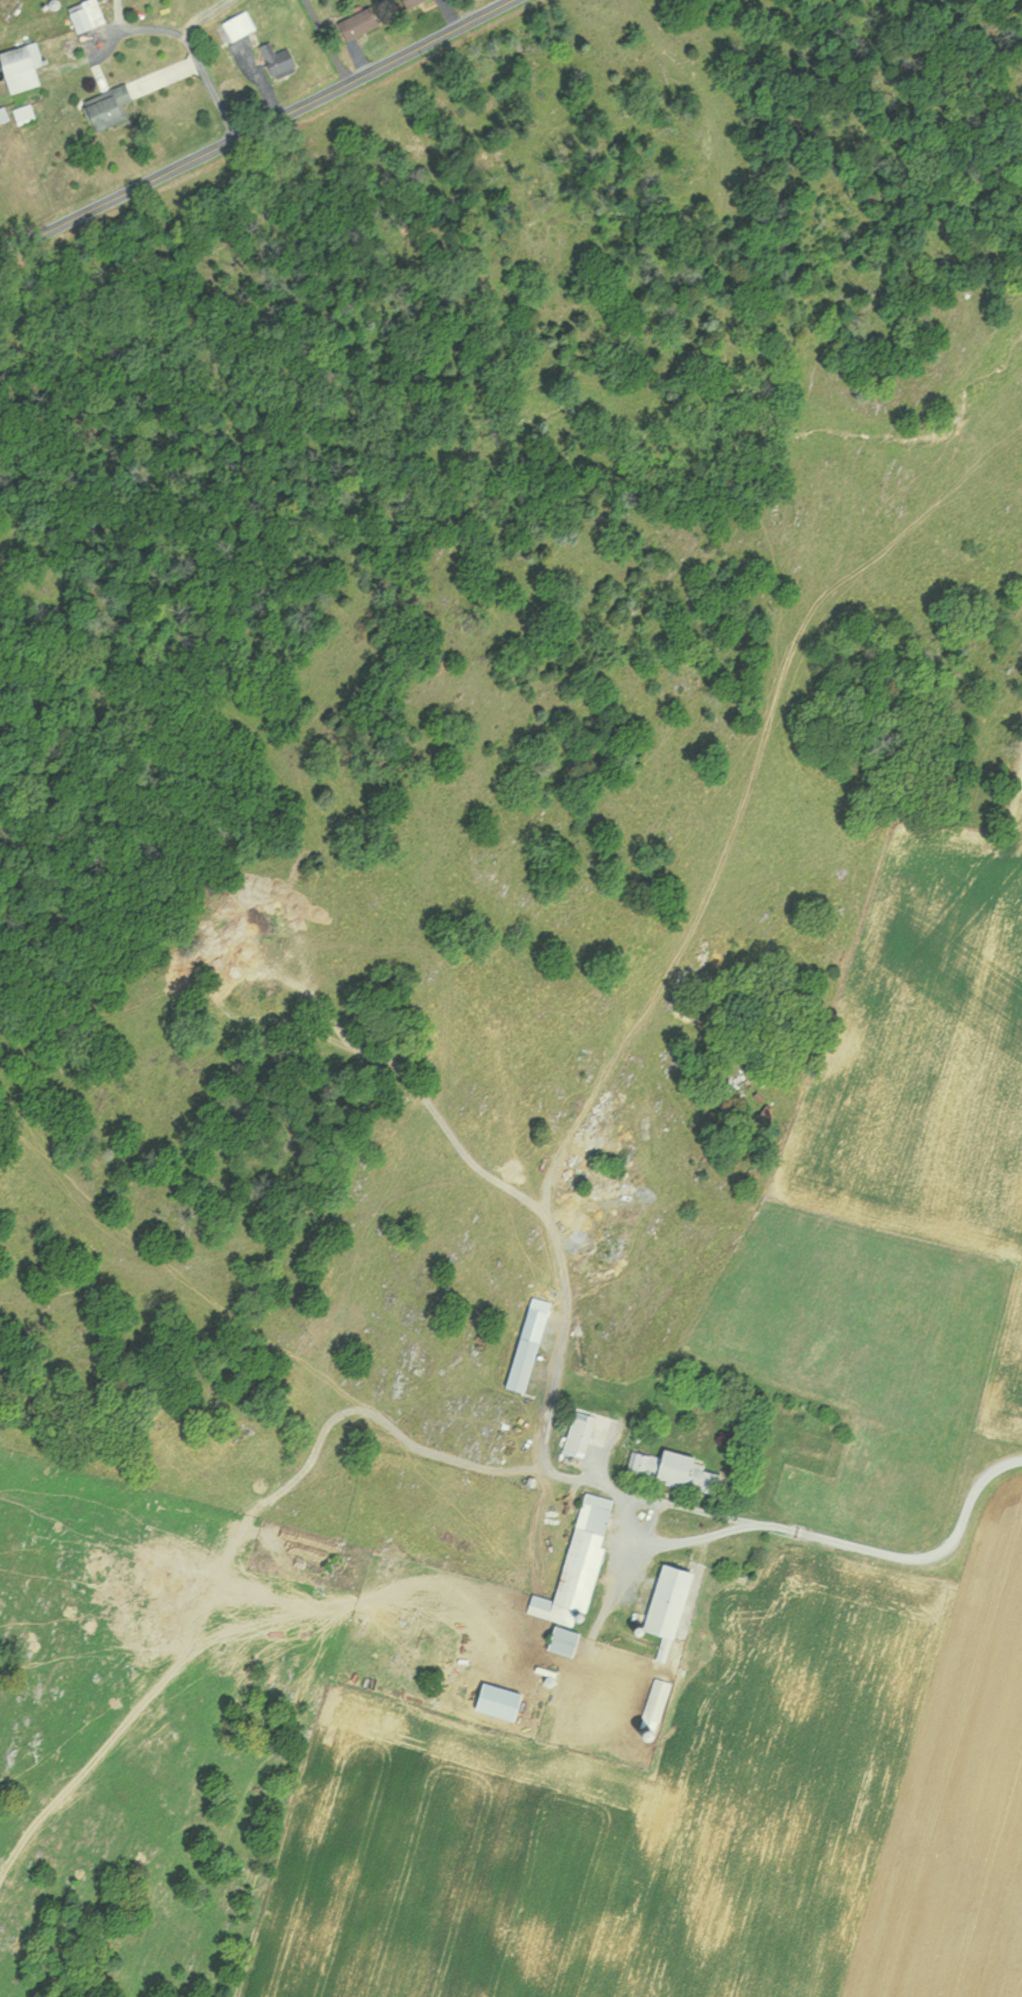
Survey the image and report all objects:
road: (196, 16)
building: (78, 17)
building: (345, 24)
building: (229, 27)
road: (318, 40)
road: (191, 56)
building: (268, 61)
building: (15, 69)
building: (98, 110)
building: (18, 116)
building: (1, 118)
road: (248, 127)
building: (512, 1364)
road: (549, 1390)
building: (569, 1431)
building: (650, 1467)
road: (618, 1519)
road: (909, 1558)
building: (567, 1564)
road: (608, 1583)
building: (655, 1605)
building: (552, 1641)
building: (647, 1703)

